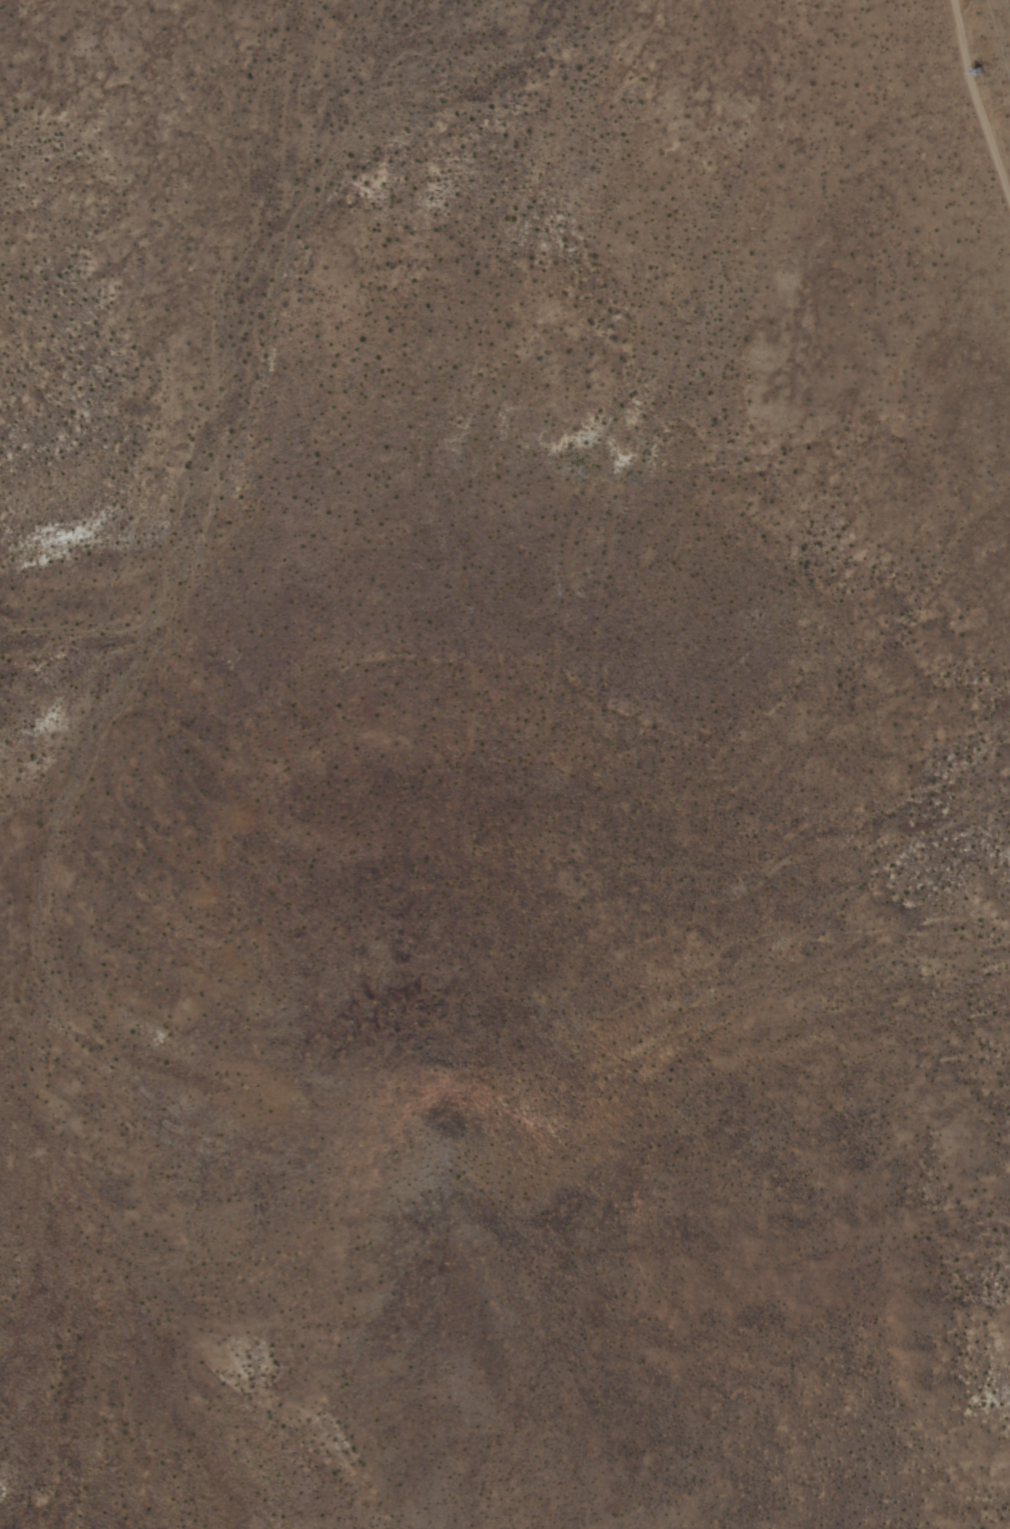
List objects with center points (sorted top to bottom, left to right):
power tower: (986, 73)

